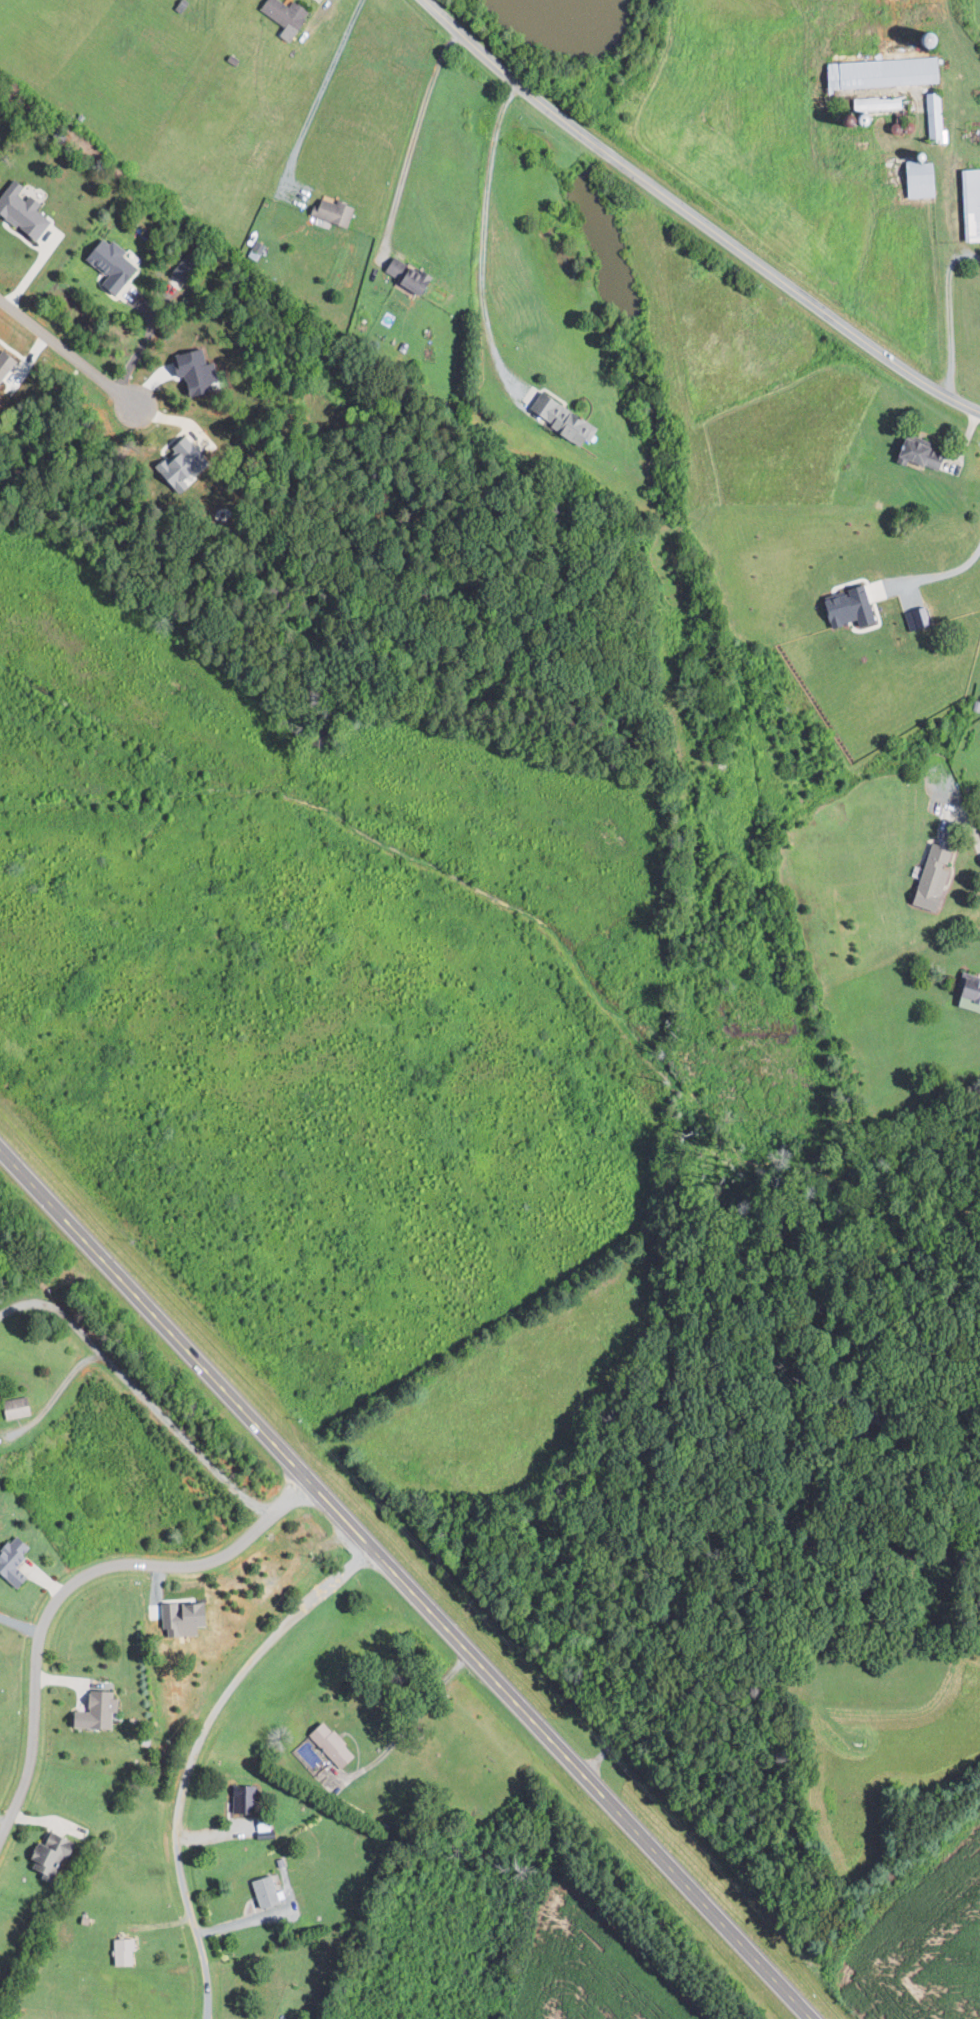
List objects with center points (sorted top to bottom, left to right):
building: (289, 13)
building: (887, 72)
road: (317, 98)
building: (880, 103)
building: (936, 116)
road: (413, 140)
building: (924, 179)
building: (973, 203)
building: (337, 211)
road: (694, 216)
road: (485, 236)
road: (963, 255)
building: (116, 265)
road: (948, 273)
building: (413, 275)
road: (142, 343)
road: (64, 350)
building: (6, 365)
building: (199, 371)
building: (567, 419)
building: (912, 451)
building: (187, 464)
road: (948, 574)
building: (843, 606)
road: (972, 832)
building: (928, 875)
building: (966, 991)
road: (55, 1394)
road: (141, 1394)
building: (20, 1407)
building: (16, 1561)
road: (405, 1583)
road: (73, 1584)
road: (767, 1624)
building: (101, 1710)
road: (407, 1722)
building: (328, 1743)
road: (195, 1751)
road: (599, 1756)
building: (240, 1800)
building: (56, 1851)
building: (261, 1891)
road: (243, 1921)
building: (127, 1950)

